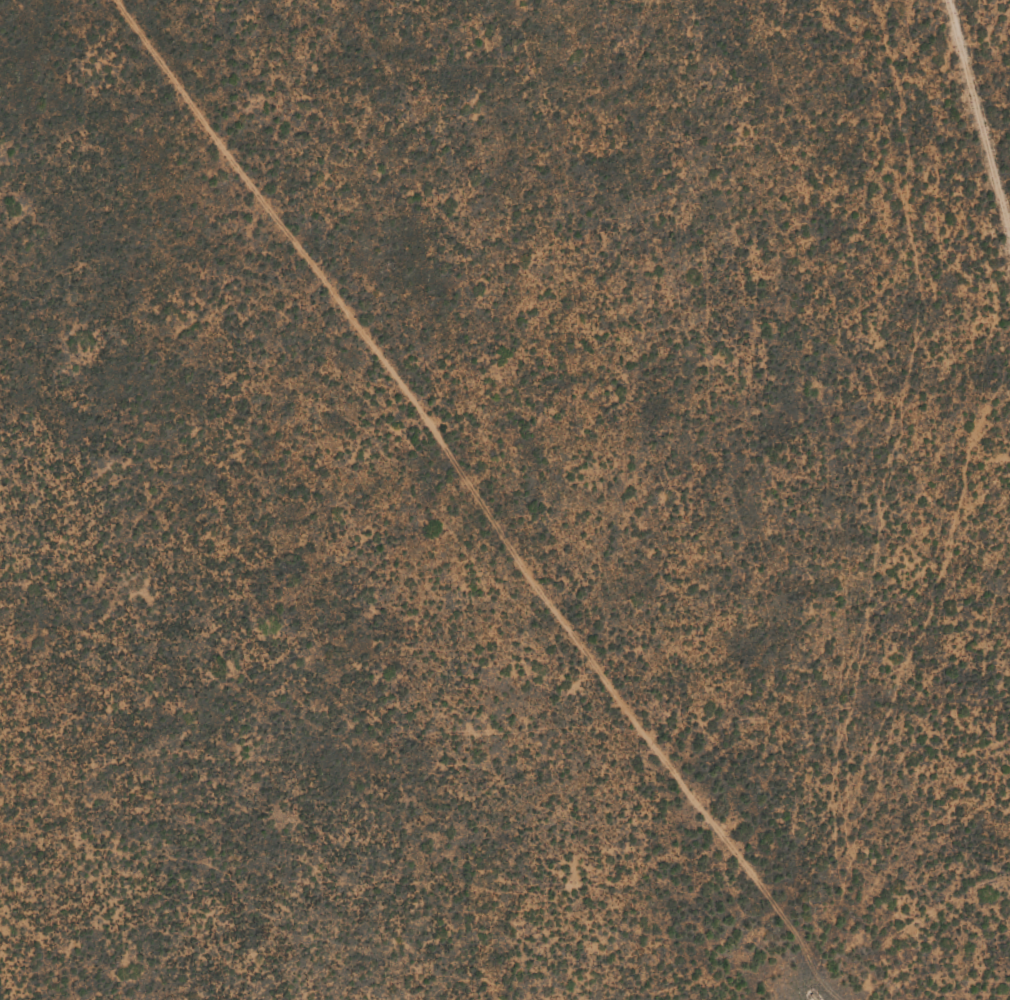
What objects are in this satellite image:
road: (993, 60)

